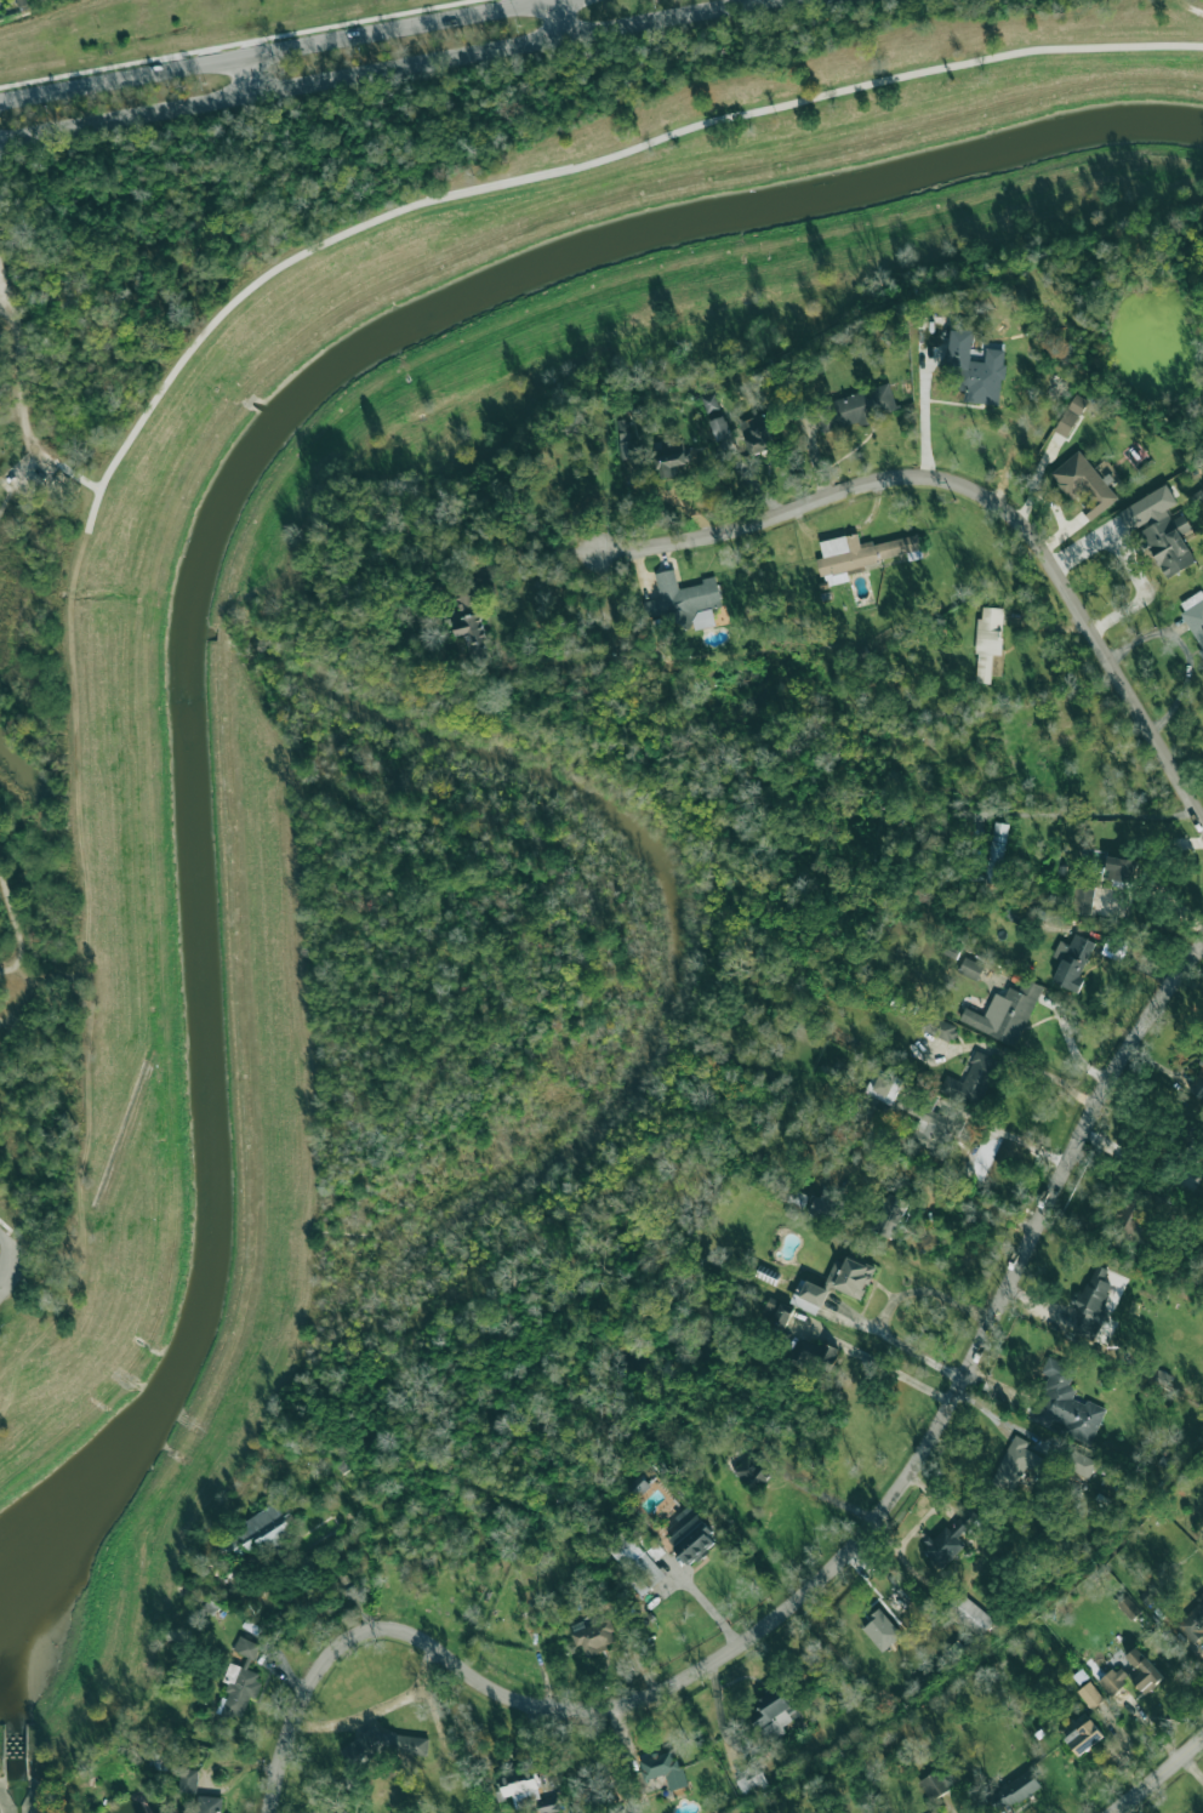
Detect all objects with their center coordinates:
road: (559, 18)
road: (278, 53)
road: (389, 67)
road: (250, 75)
road: (574, 167)
road: (1, 301)
road: (4, 312)
building: (975, 369)
road: (19, 380)
building: (709, 403)
building: (856, 409)
road: (923, 411)
building: (1071, 415)
building: (718, 427)
building: (757, 433)
building: (626, 441)
building: (671, 457)
parking lot: (29, 472)
road: (0, 478)
road: (79, 479)
building: (1084, 483)
road: (8, 492)
road: (981, 495)
building: (1161, 530)
river: (206, 536)
building: (859, 554)
building: (684, 600)
road: (1138, 602)
building: (1195, 616)
building: (469, 625)
building: (988, 643)
park: (36, 688)
road: (1081, 813)
building: (996, 853)
building: (1122, 868)
building: (1082, 899)
road: (16, 929)
building: (1071, 962)
building: (970, 968)
building: (1005, 1013)
road: (0, 1021)
building: (937, 1027)
road: (1070, 1044)
road: (1020, 1060)
building: (973, 1079)
building: (1197, 1085)
building: (883, 1087)
building: (934, 1128)
road: (1017, 1136)
road: (987, 1204)
building: (822, 1209)
building: (893, 1215)
building: (1129, 1219)
road: (12, 1242)
road: (12, 1267)
building: (850, 1277)
road: (927, 1292)
building: (809, 1296)
building: (1093, 1301)
building: (779, 1315)
road: (900, 1341)
building: (814, 1355)
road: (894, 1373)
building: (1066, 1403)
building: (1081, 1461)
building: (1016, 1464)
building: (752, 1472)
building: (638, 1486)
road: (822, 1493)
building: (268, 1528)
building: (691, 1537)
building: (950, 1539)
building: (655, 1550)
building: (635, 1562)
road: (827, 1572)
building: (1129, 1607)
road: (707, 1610)
building: (968, 1615)
building: (1192, 1621)
building: (876, 1627)
building: (1142, 1671)
building: (1114, 1680)
building: (240, 1681)
building: (1090, 1695)
road: (377, 1709)
building: (774, 1712)
building: (1084, 1737)
building: (663, 1768)
road: (1159, 1778)
building: (188, 1780)
building: (753, 1784)
building: (934, 1785)
building: (1016, 1789)
building: (206, 1805)
building: (547, 1805)

